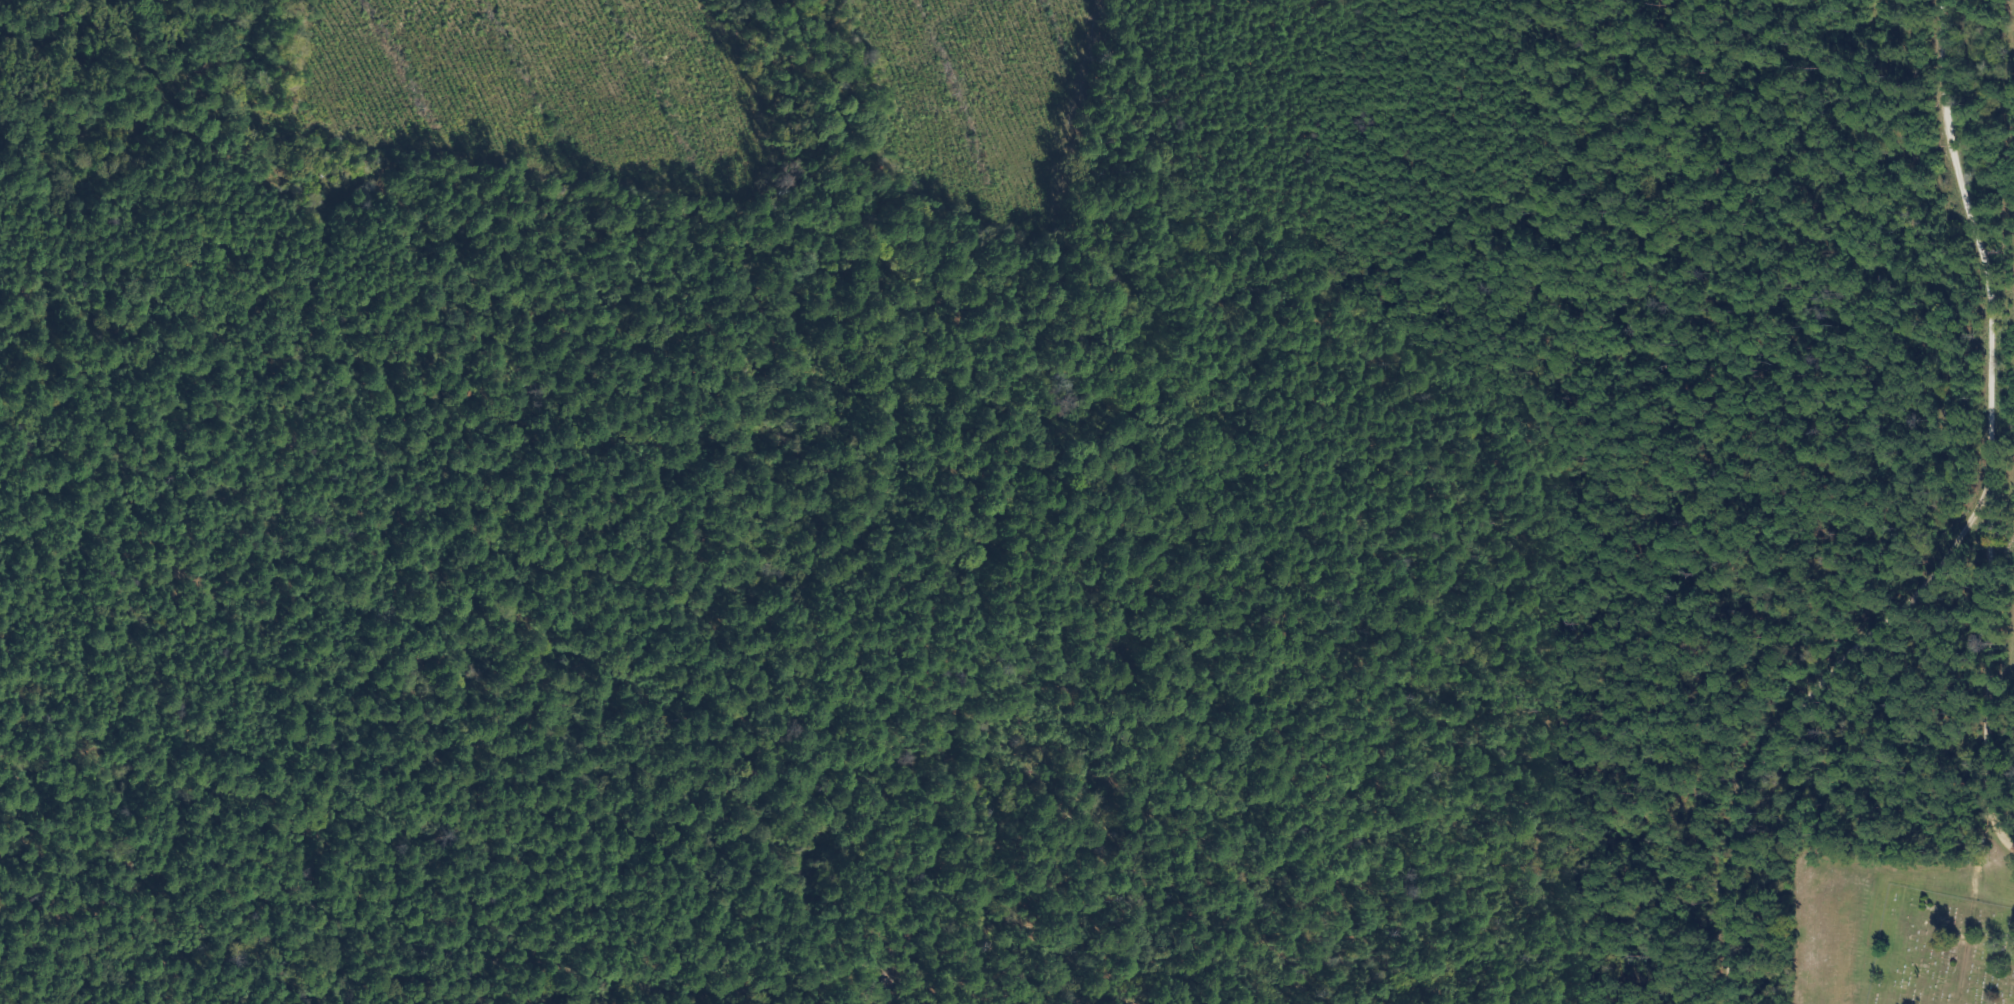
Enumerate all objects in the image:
road: (1951, 538)
park: (1941, 951)

